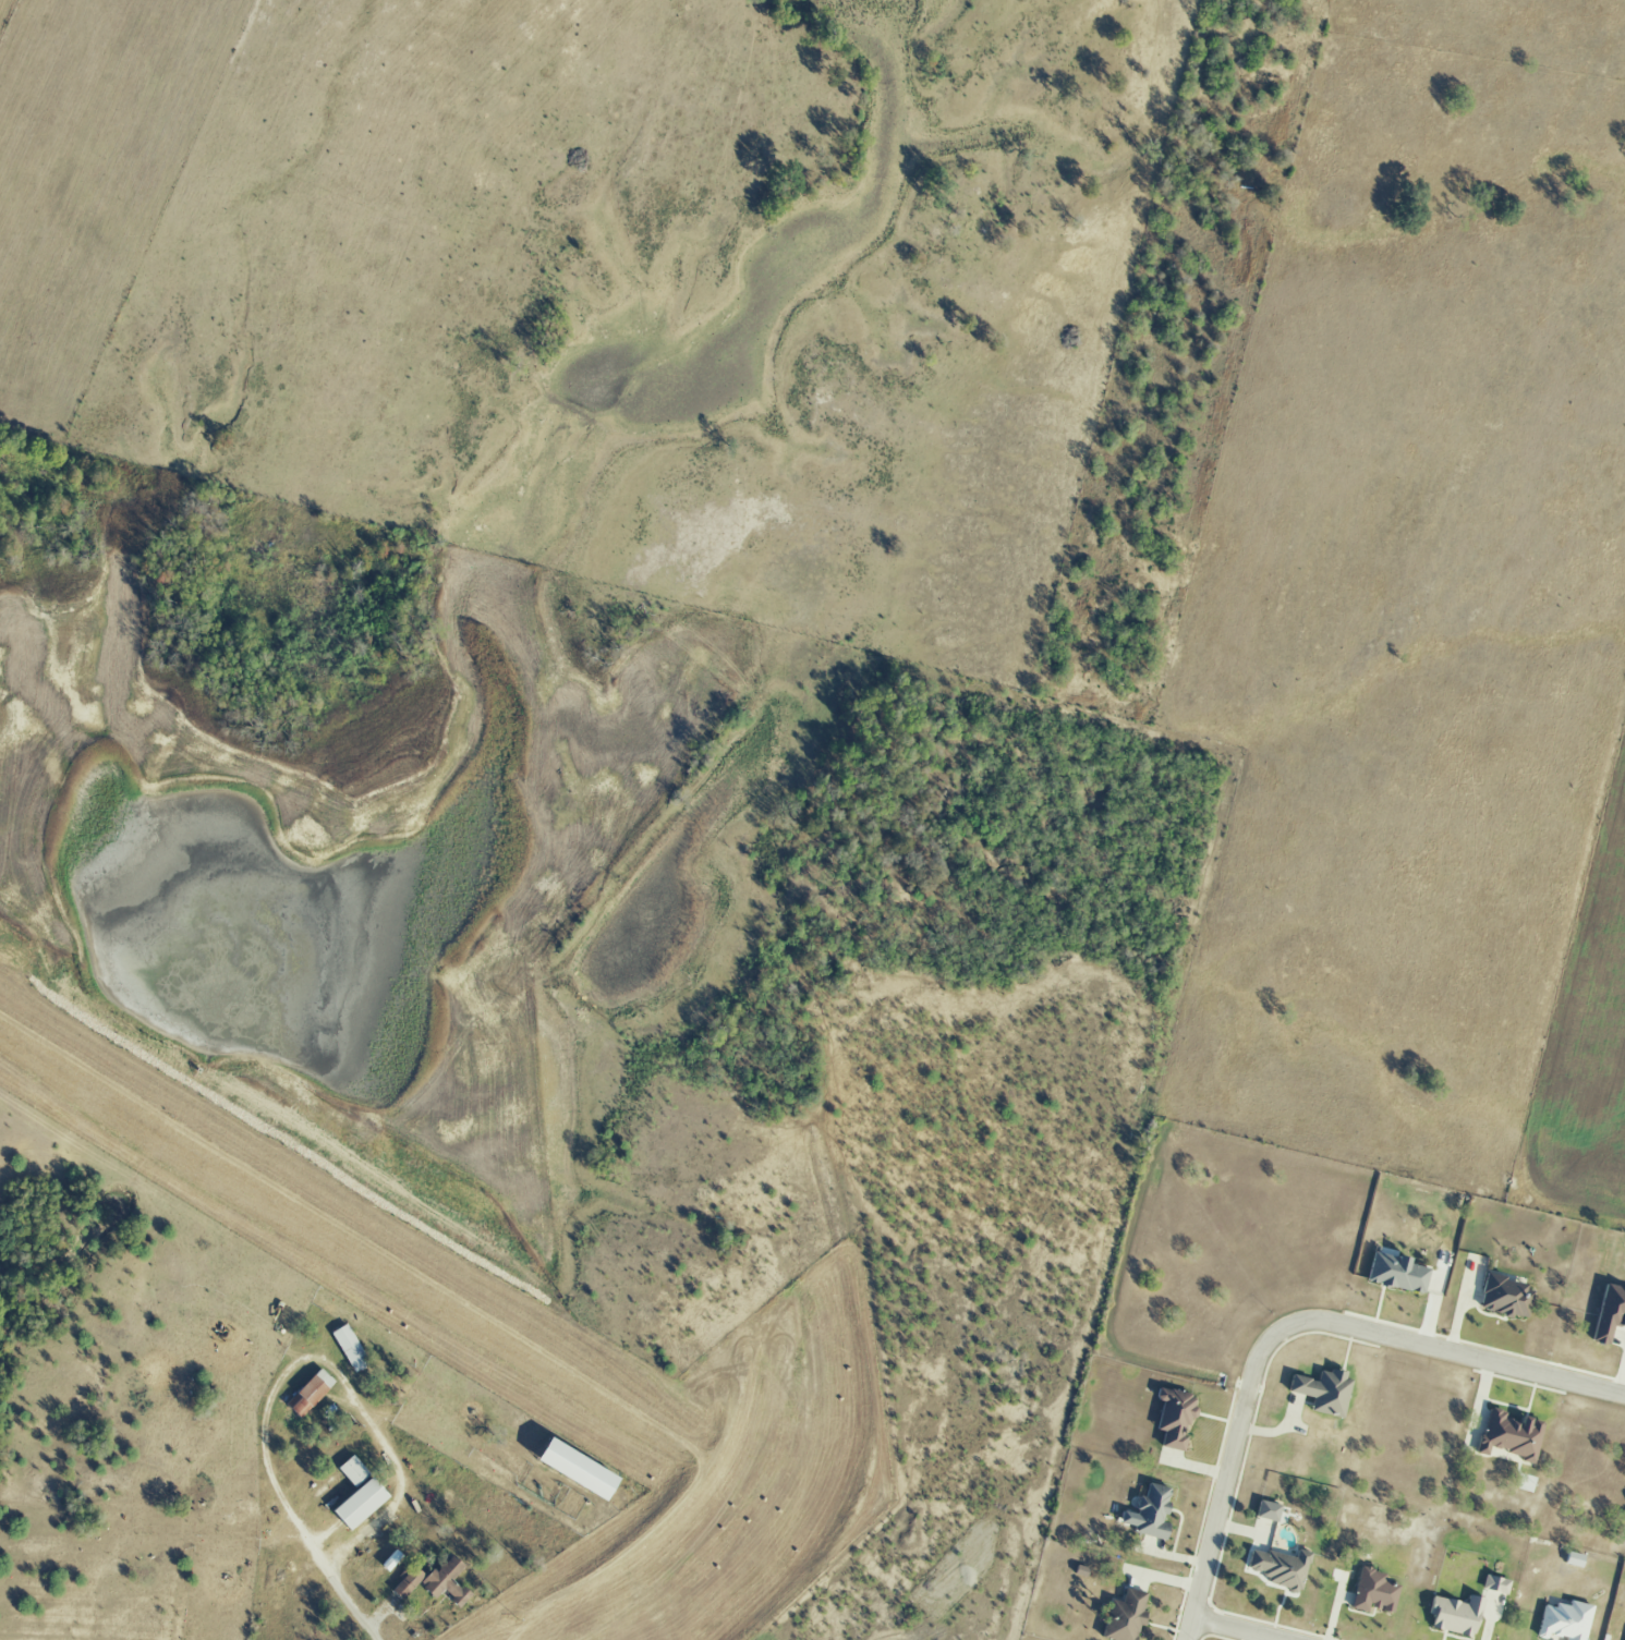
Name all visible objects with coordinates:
dam: (319, 1213)
building: (1396, 1273)
building: (1505, 1298)
building: (1610, 1313)
building: (349, 1348)
road: (1456, 1352)
road: (344, 1374)
building: (1323, 1390)
building: (311, 1393)
building: (1509, 1435)
building: (575, 1468)
building: (352, 1471)
road: (1224, 1481)
building: (359, 1503)
building: (1268, 1510)
building: (1152, 1513)
building: (1276, 1567)
road: (334, 1579)
building: (446, 1581)
building: (409, 1583)
building: (1495, 1584)
building: (1373, 1592)
building: (1455, 1615)
building: (1126, 1617)
building: (1564, 1621)
road: (1241, 1628)

